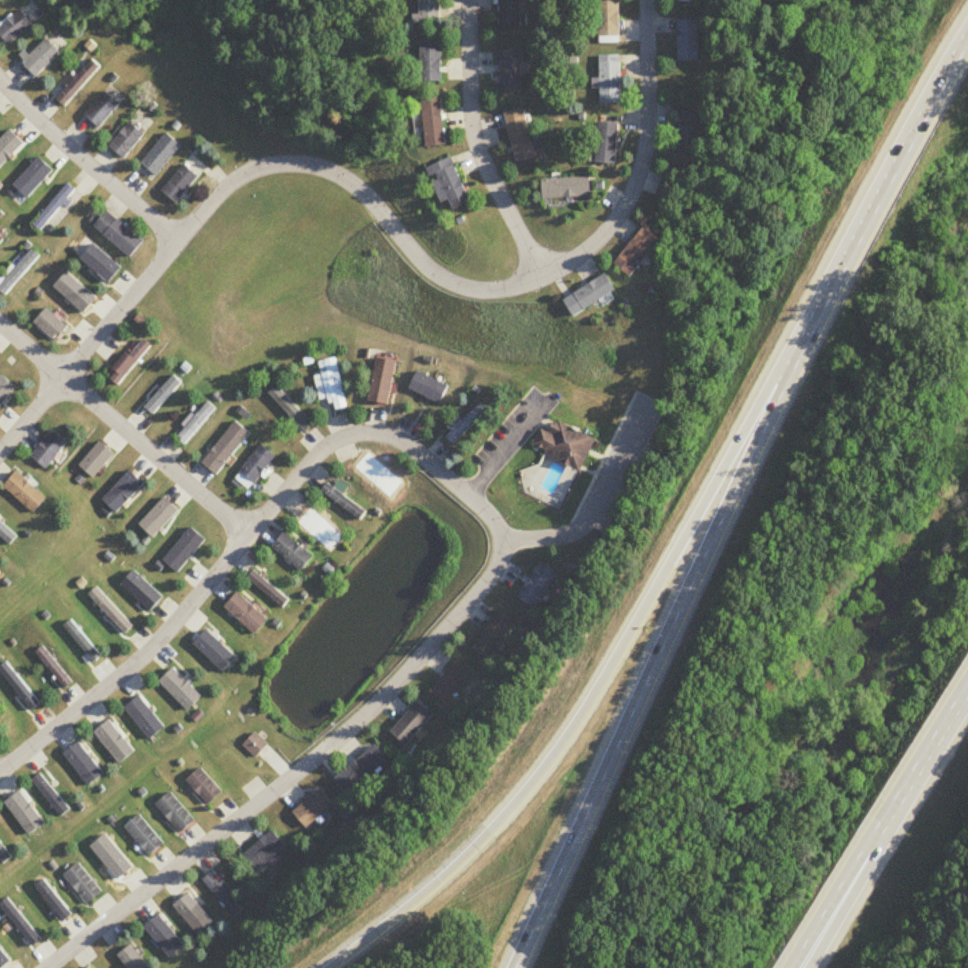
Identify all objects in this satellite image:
building: (0, 0)
building: (682, 0)
building: (428, 12)
building: (510, 14)
building: (608, 21)
building: (15, 27)
building: (688, 40)
building: (40, 57)
building: (431, 62)
building: (510, 72)
building: (609, 79)
building: (78, 83)
building: (102, 110)
building: (435, 123)
building: (690, 131)
building: (519, 136)
building: (127, 141)
building: (607, 142)
building: (161, 155)
road: (85, 164)
road: (234, 179)
building: (179, 184)
building: (449, 185)
building: (566, 189)
building: (53, 208)
building: (118, 235)
building: (1, 241)
building: (640, 252)
building: (96, 260)
road: (554, 271)
building: (592, 296)
building: (51, 324)
building: (129, 362)
building: (382, 382)
building: (331, 385)
building: (427, 388)
building: (164, 395)
building: (196, 424)
building: (464, 424)
road: (125, 429)
building: (562, 441)
road: (501, 444)
building: (226, 448)
building: (49, 450)
building: (96, 460)
building: (255, 467)
road: (584, 490)
building: (26, 493)
building: (345, 502)
road: (732, 503)
building: (294, 553)
road: (231, 561)
building: (538, 585)
building: (269, 590)
building: (113, 612)
building: (247, 614)
building: (494, 635)
building: (84, 641)
road: (615, 654)
building: (55, 668)
building: (451, 683)
building: (1, 722)
building: (412, 724)
building: (256, 746)
road: (320, 757)
building: (361, 770)
building: (205, 787)
building: (313, 810)
building: (176, 814)
road: (879, 825)
building: (145, 836)
building: (264, 851)
building: (4, 856)
road: (865, 878)
building: (84, 884)
building: (222, 895)
building: (26, 925)
building: (132, 959)

